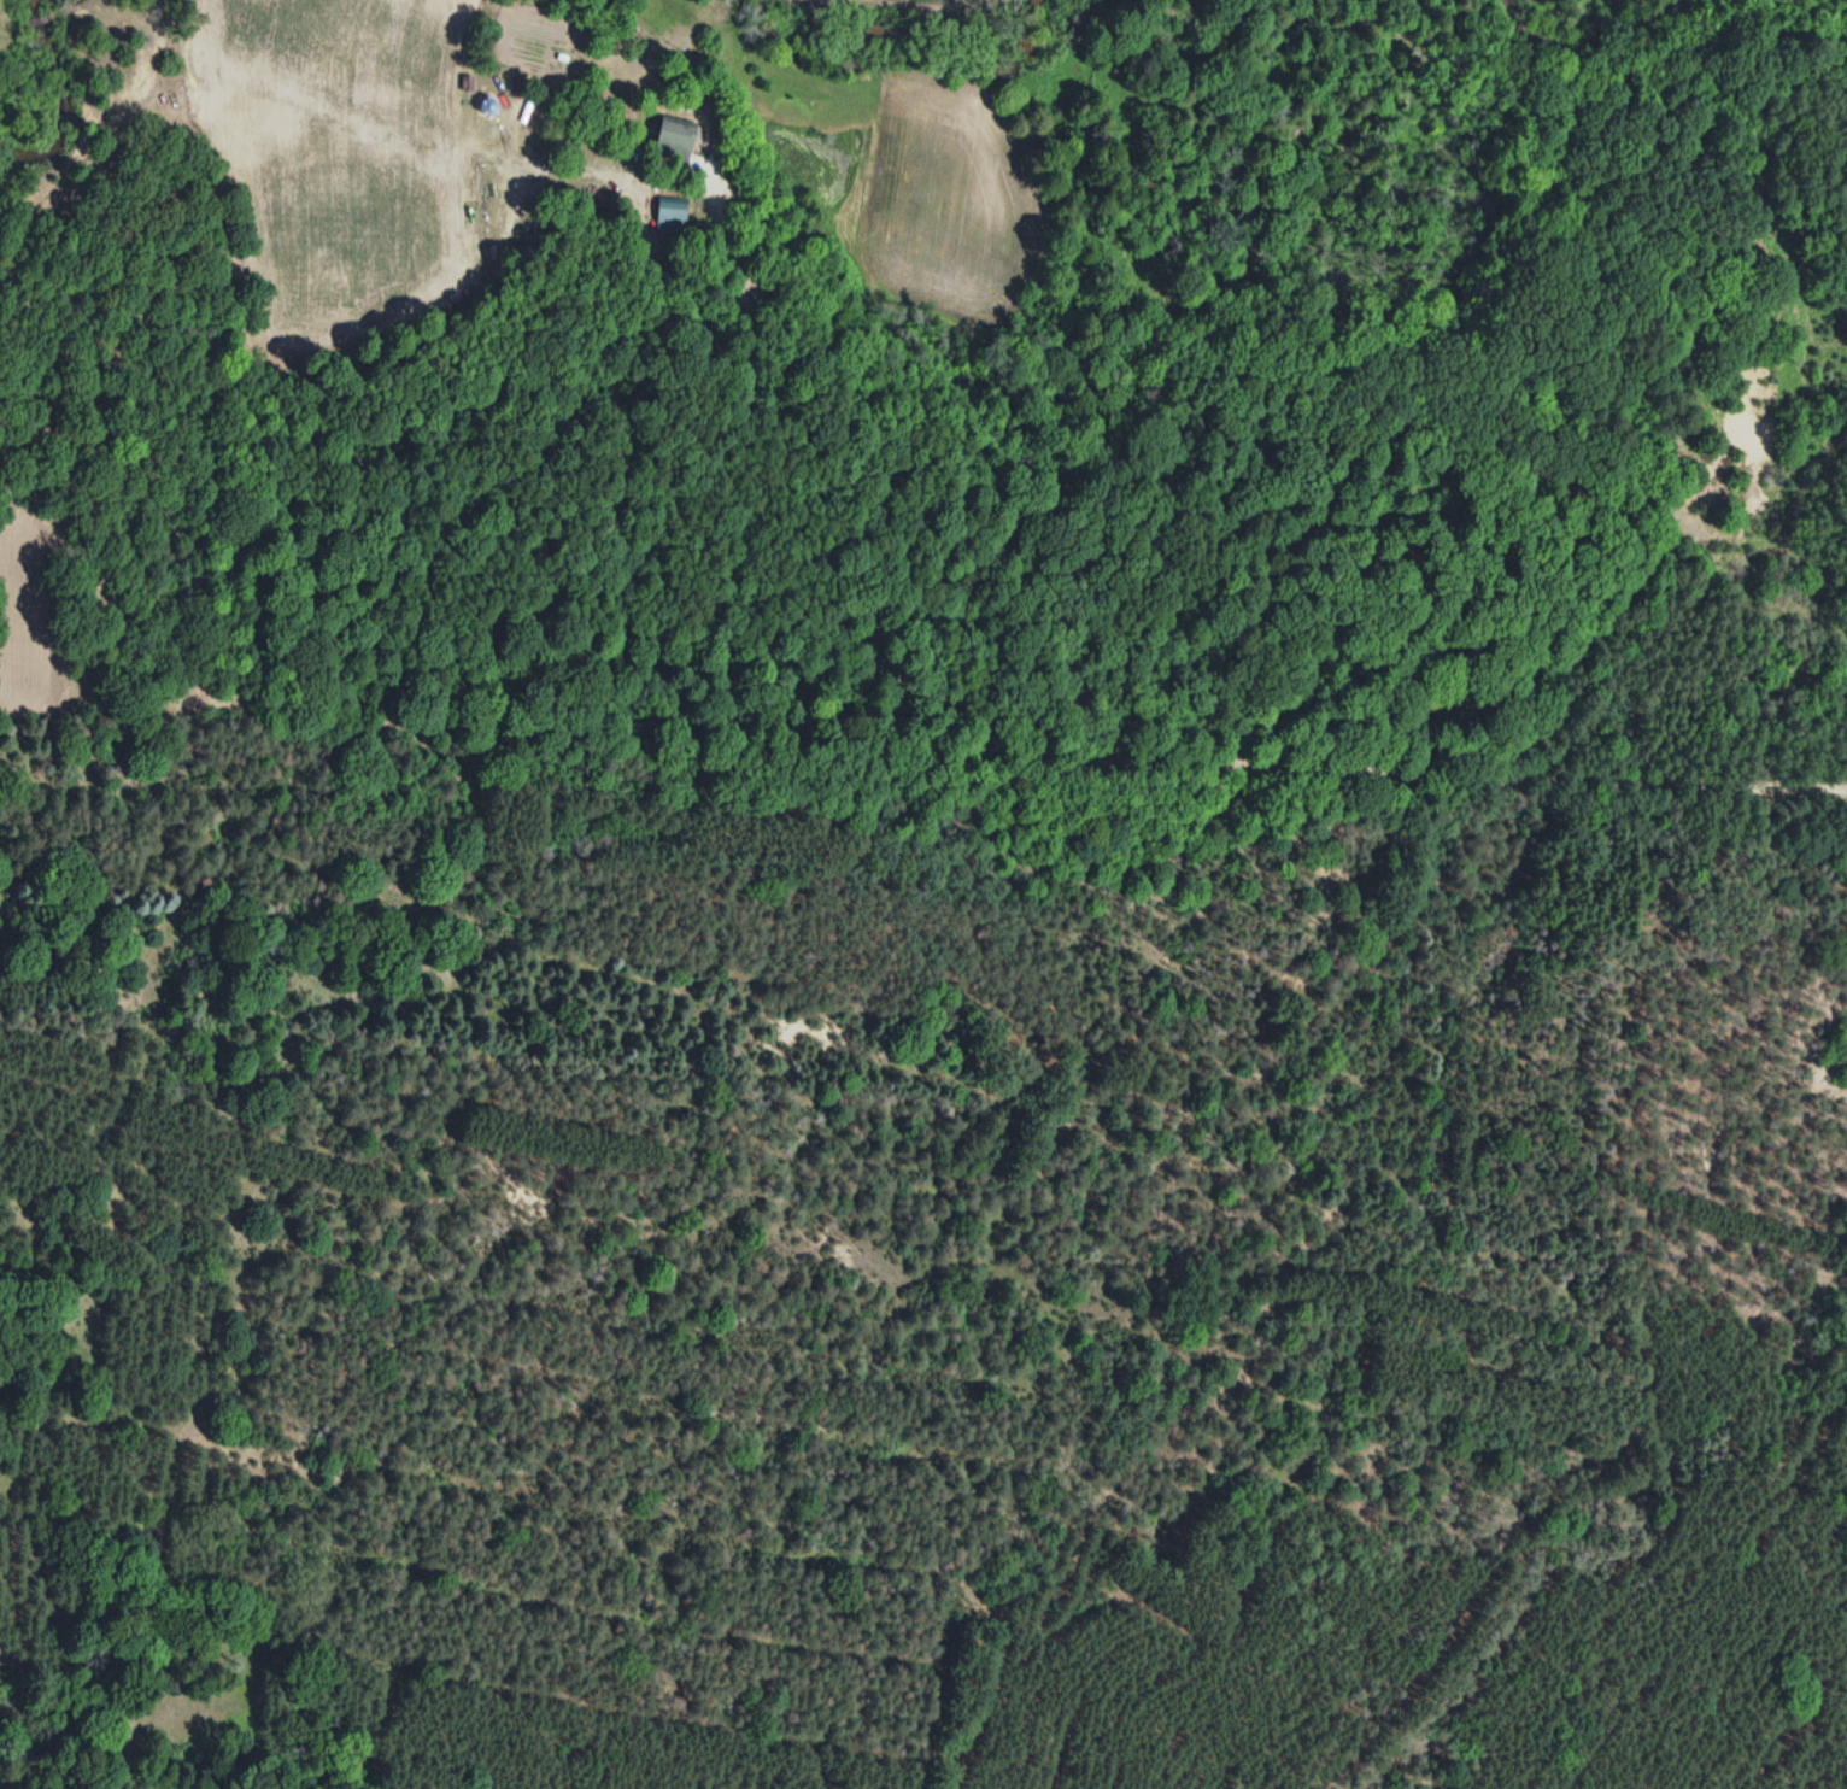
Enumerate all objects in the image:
river: (904, 34)
river: (1581, 40)
river: (66, 101)
building: (670, 135)
road: (1315, 359)

